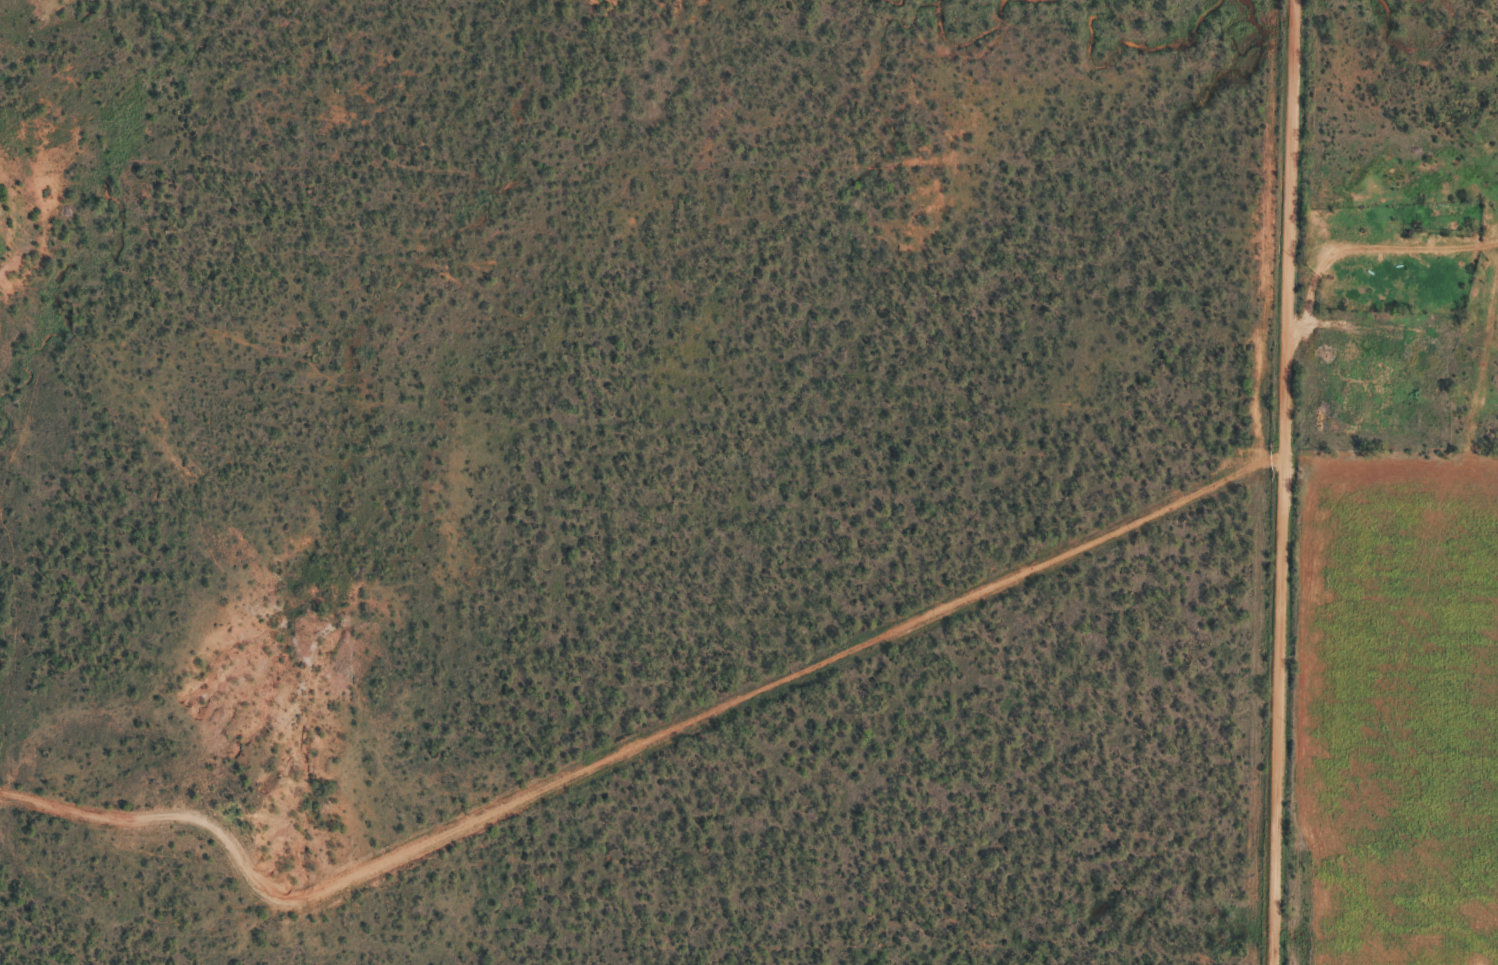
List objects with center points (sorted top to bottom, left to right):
road: (1285, 482)

